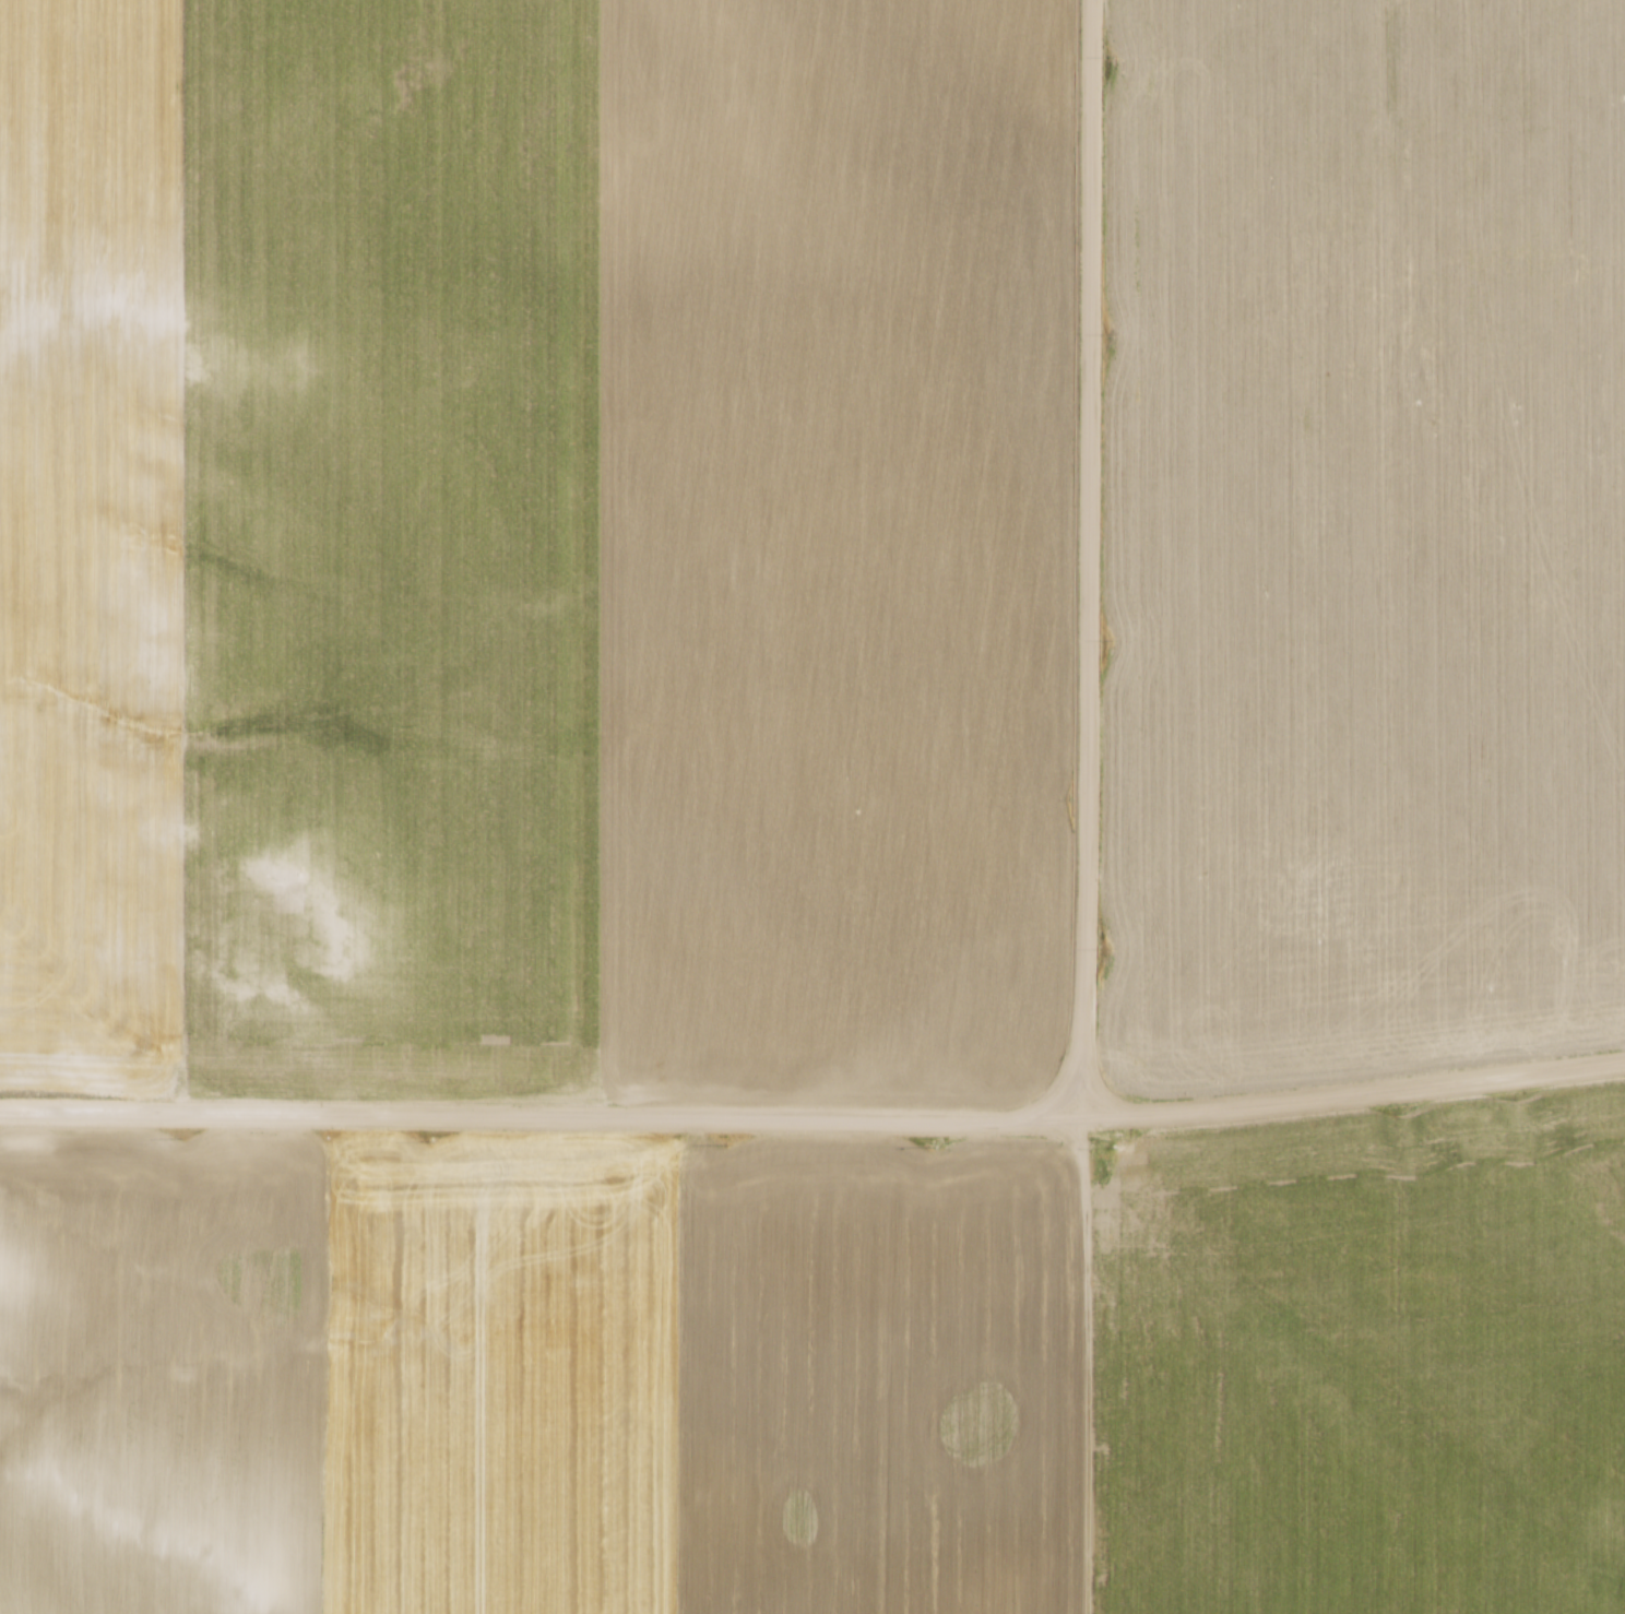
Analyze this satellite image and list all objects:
road: (1084, 807)
road: (814, 1123)

